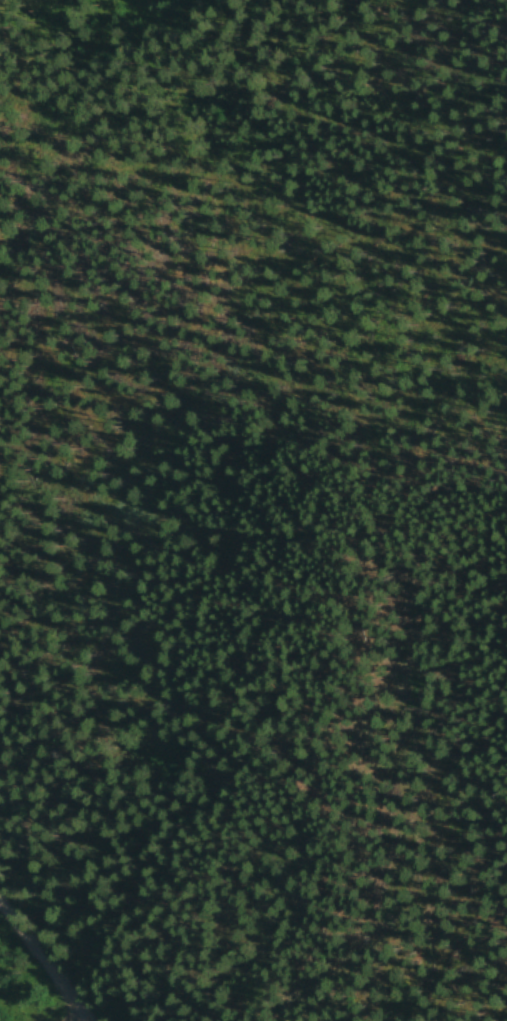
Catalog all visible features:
road: (170, 101)
road: (10, 386)
road: (128, 795)
road: (42, 964)

